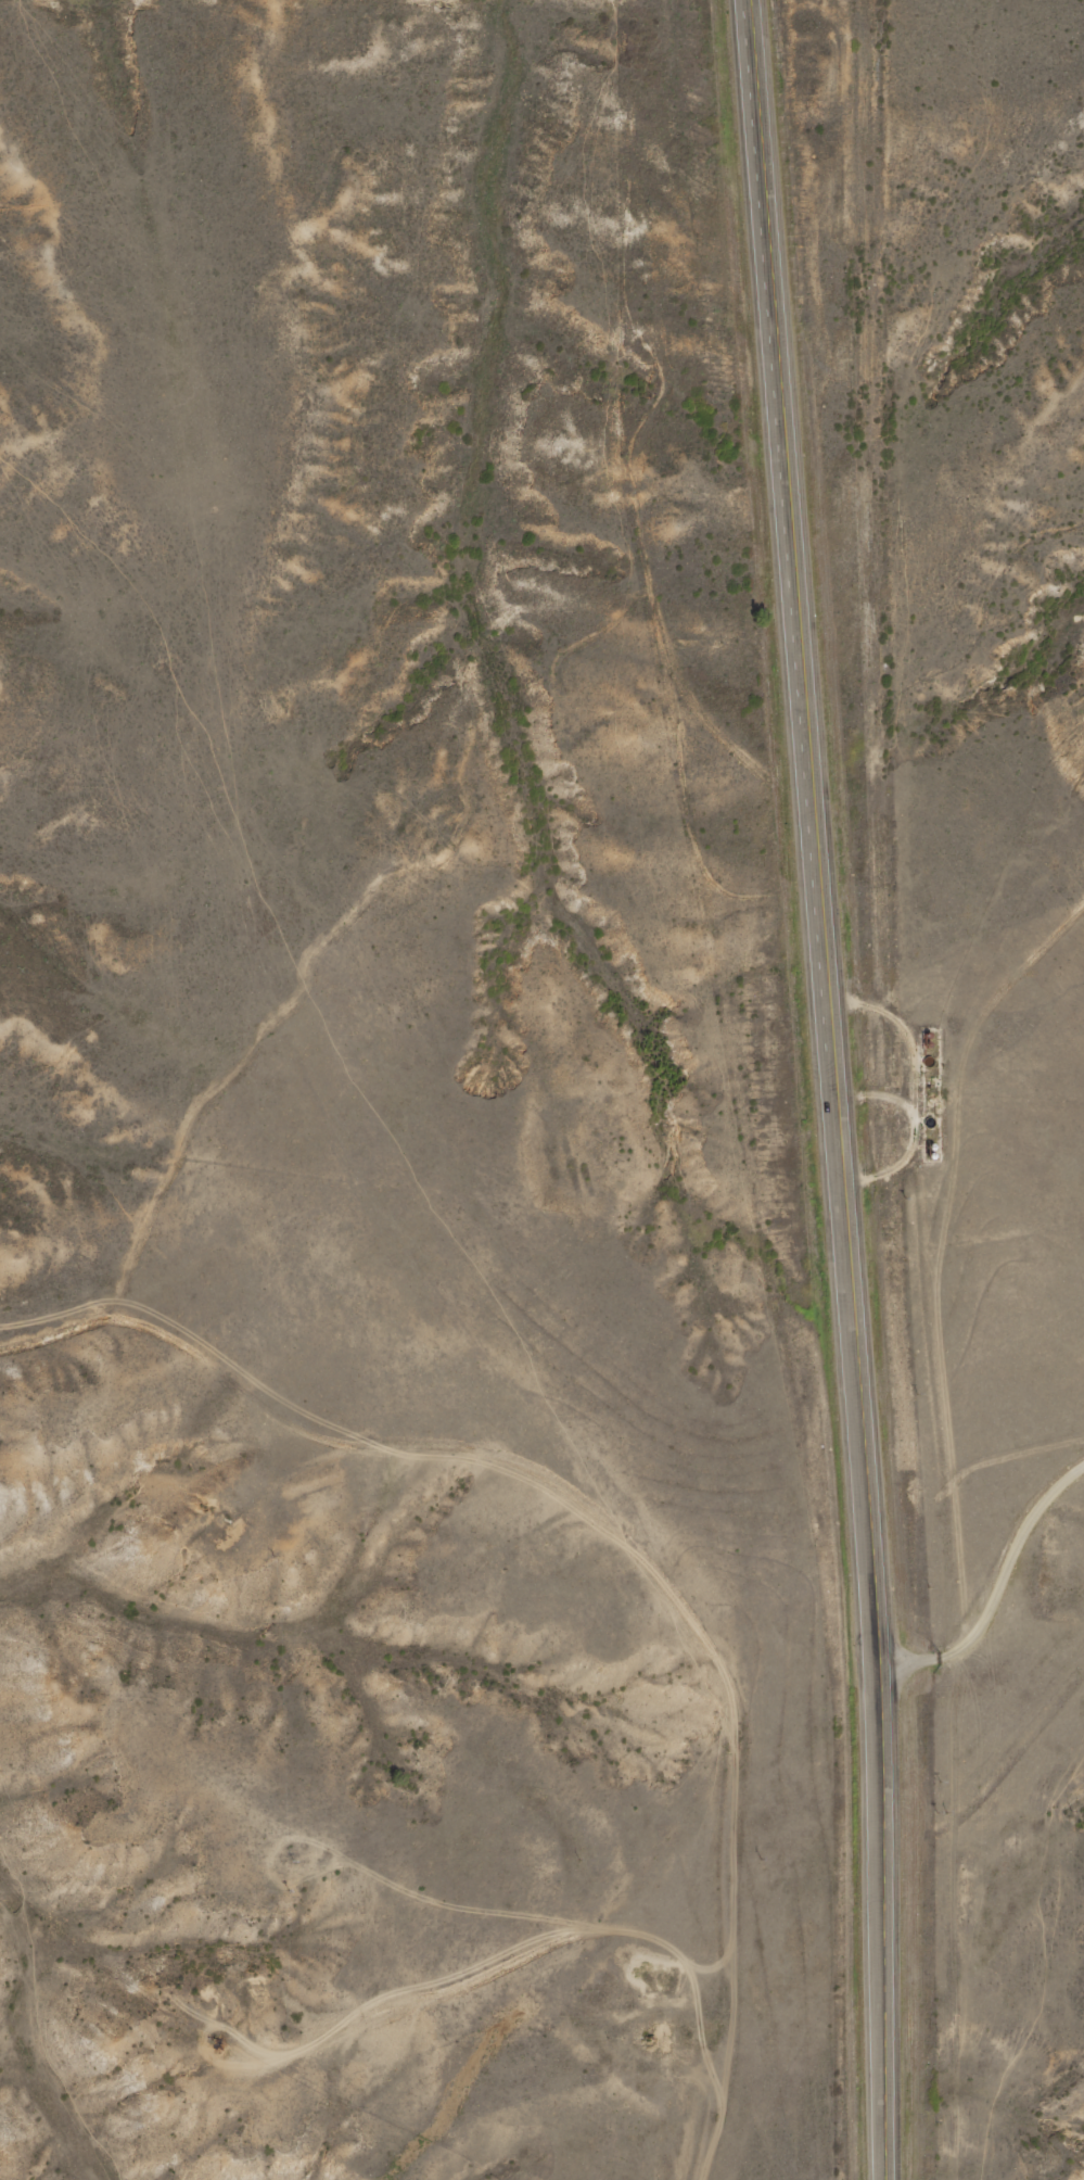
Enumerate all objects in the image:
road: (830, 1089)
road: (996, 1593)

